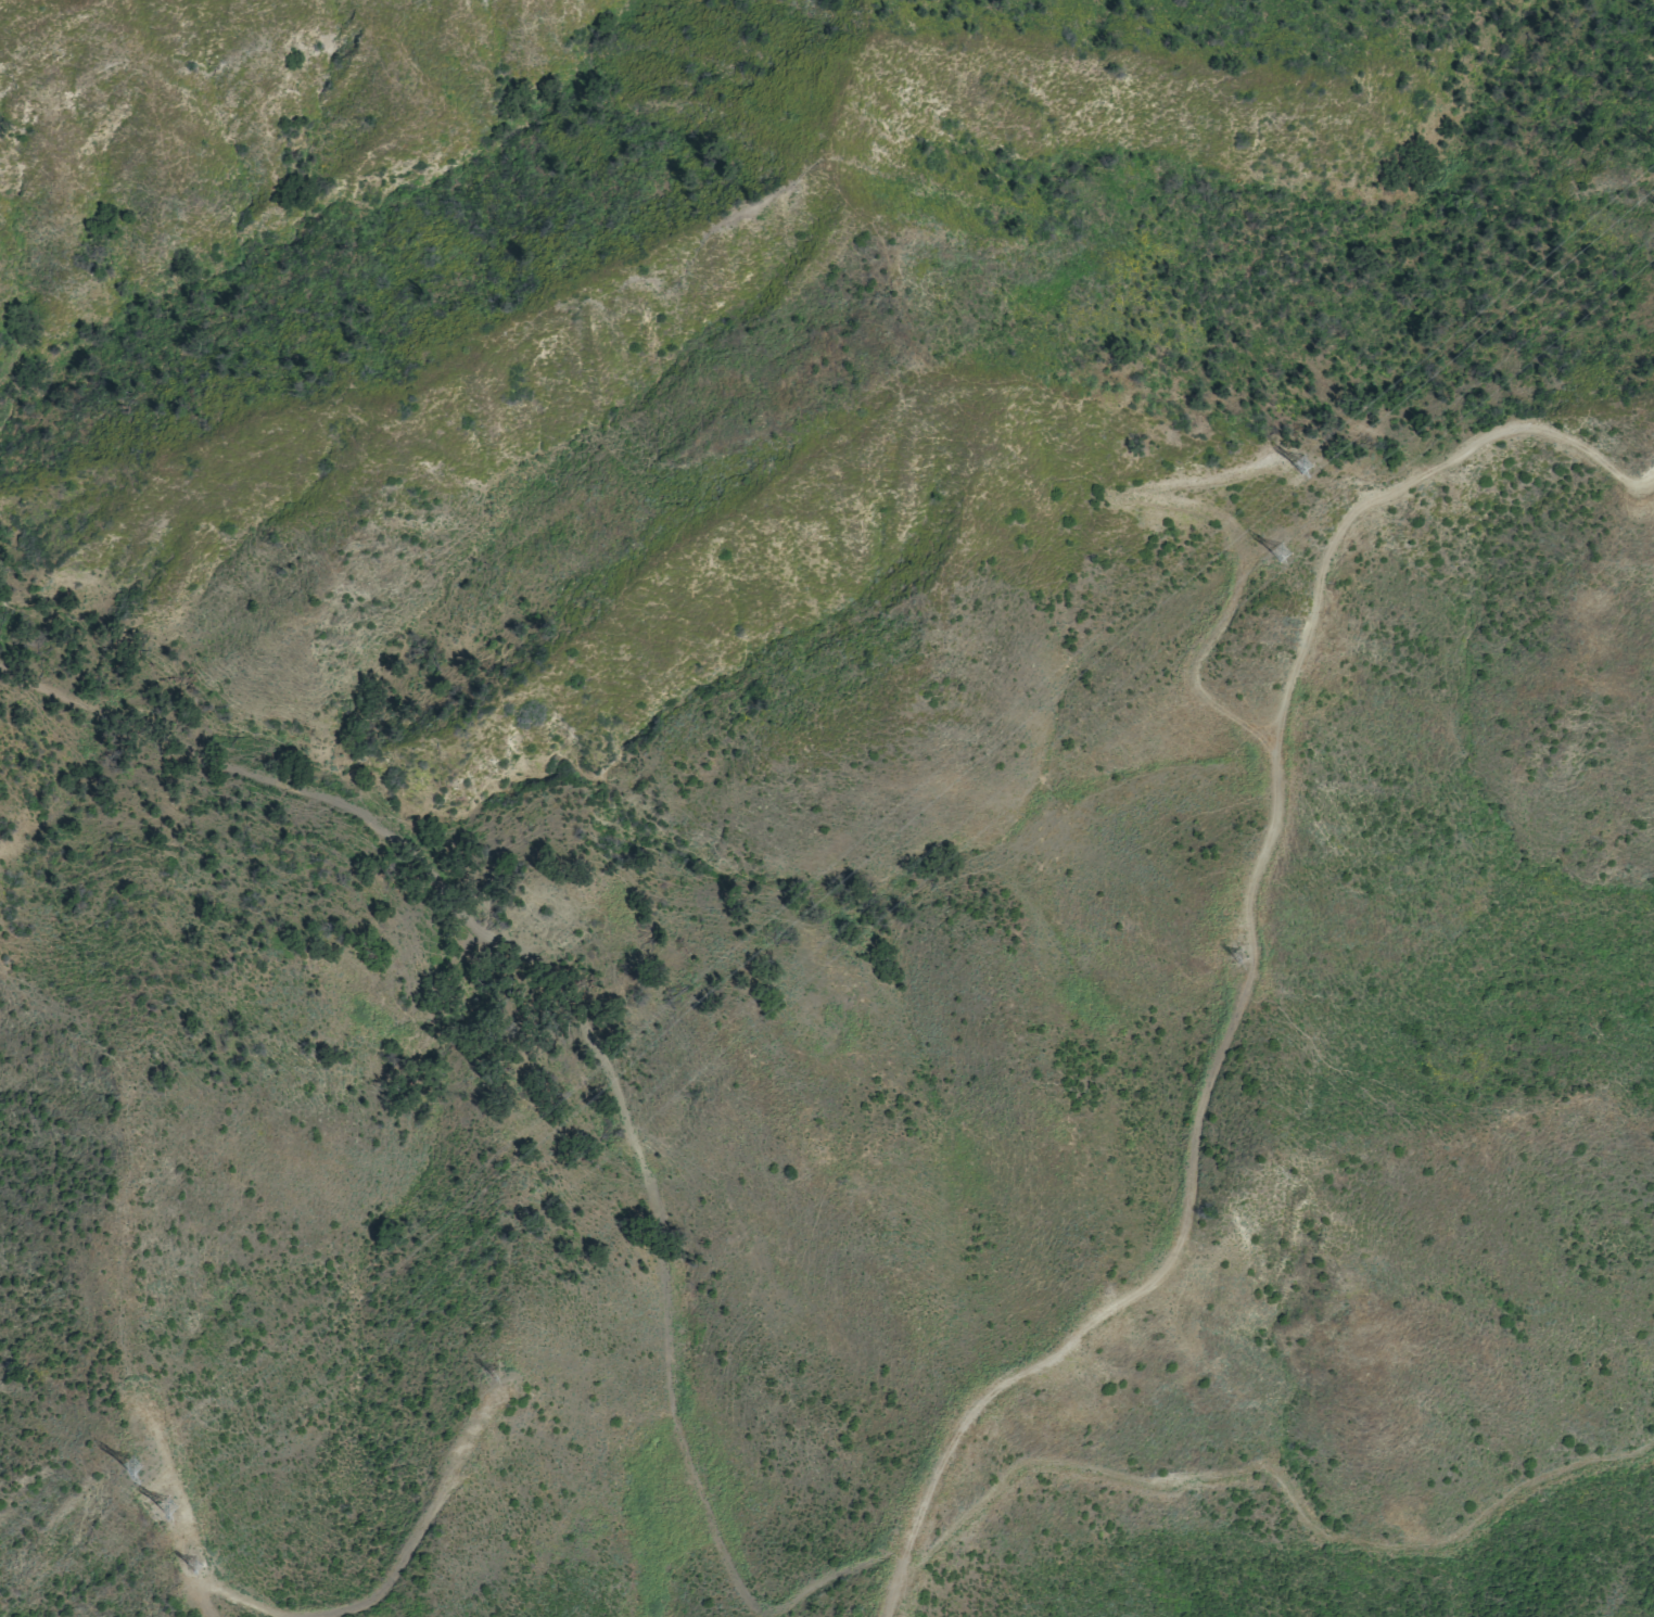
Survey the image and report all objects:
power tower: (1305, 469)
power tower: (1281, 557)
power tower: (1242, 957)
power tower: (498, 1374)
power tower: (131, 1466)
power tower: (164, 1507)
power tower: (196, 1568)

